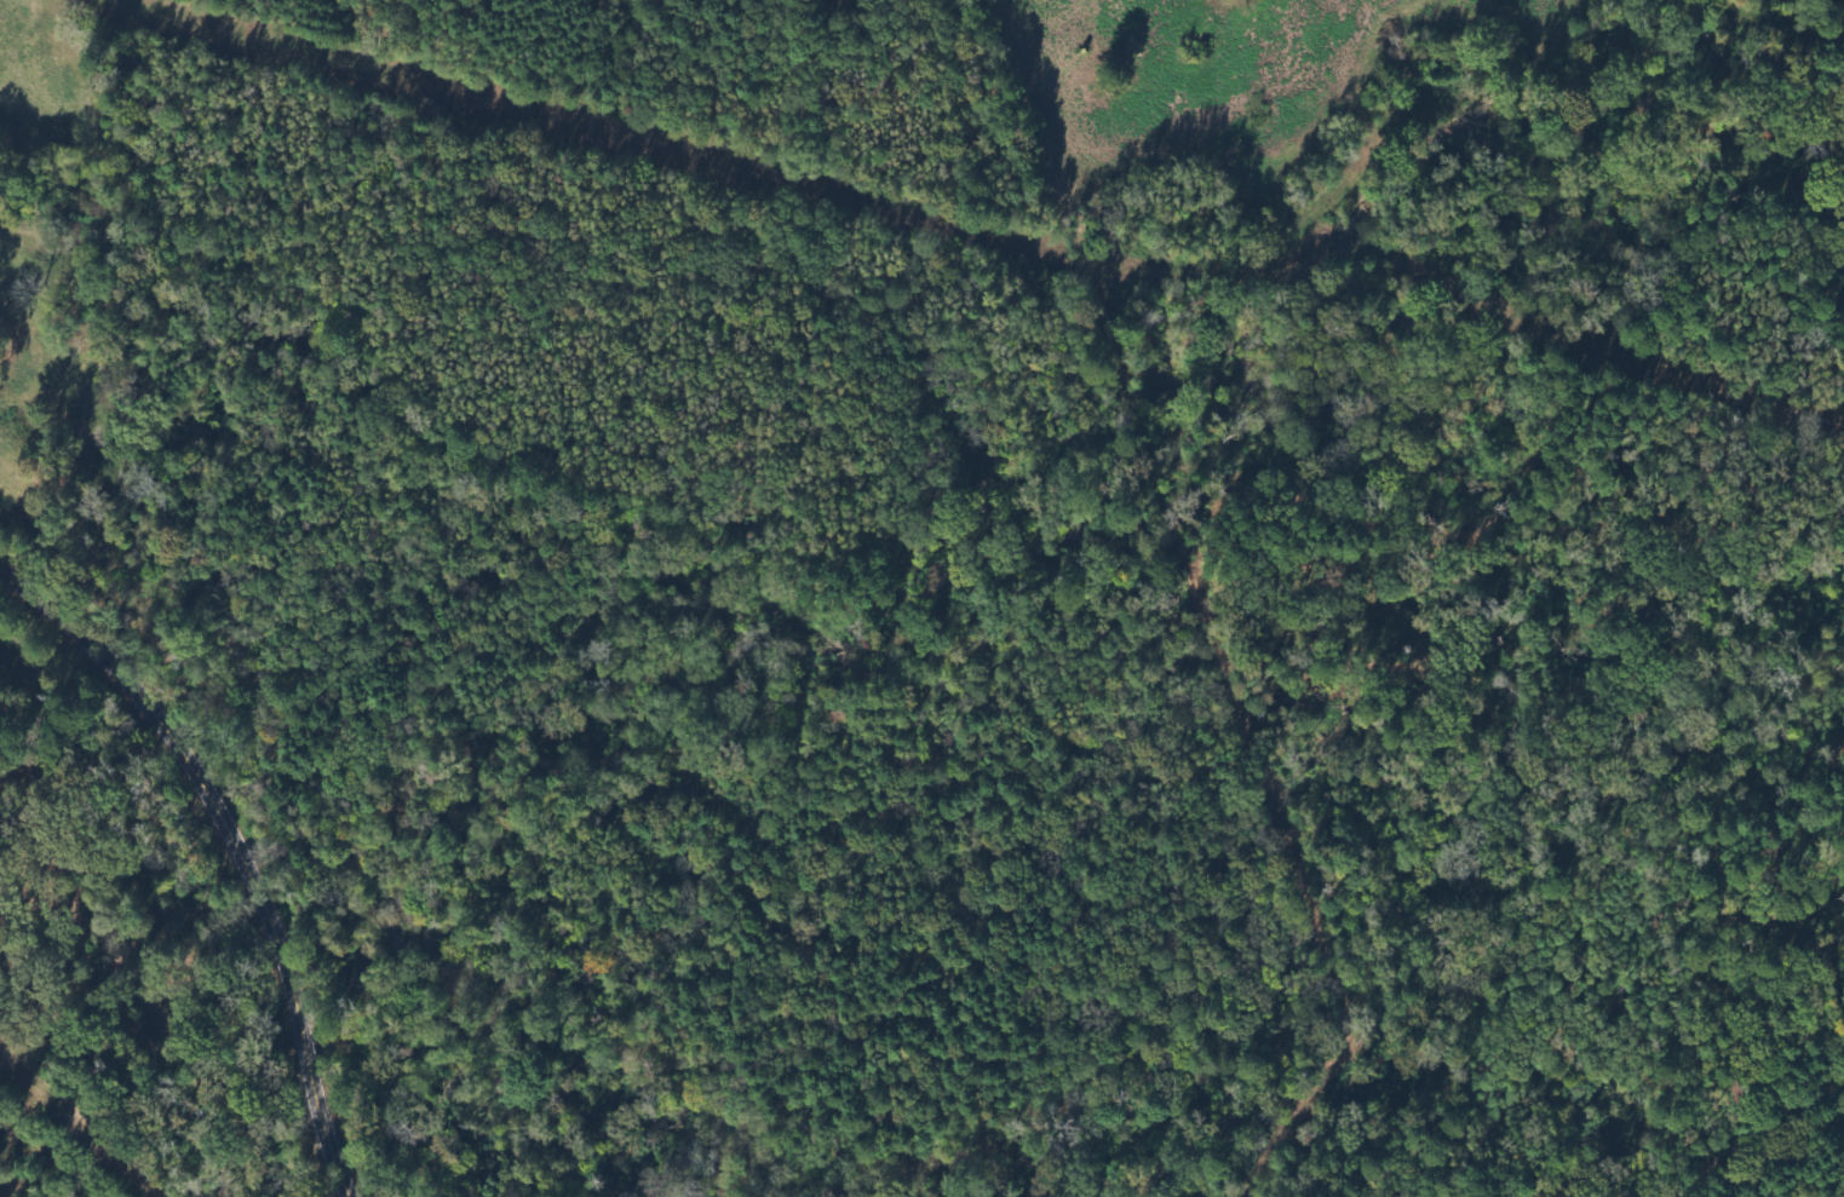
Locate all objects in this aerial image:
road: (236, 847)

